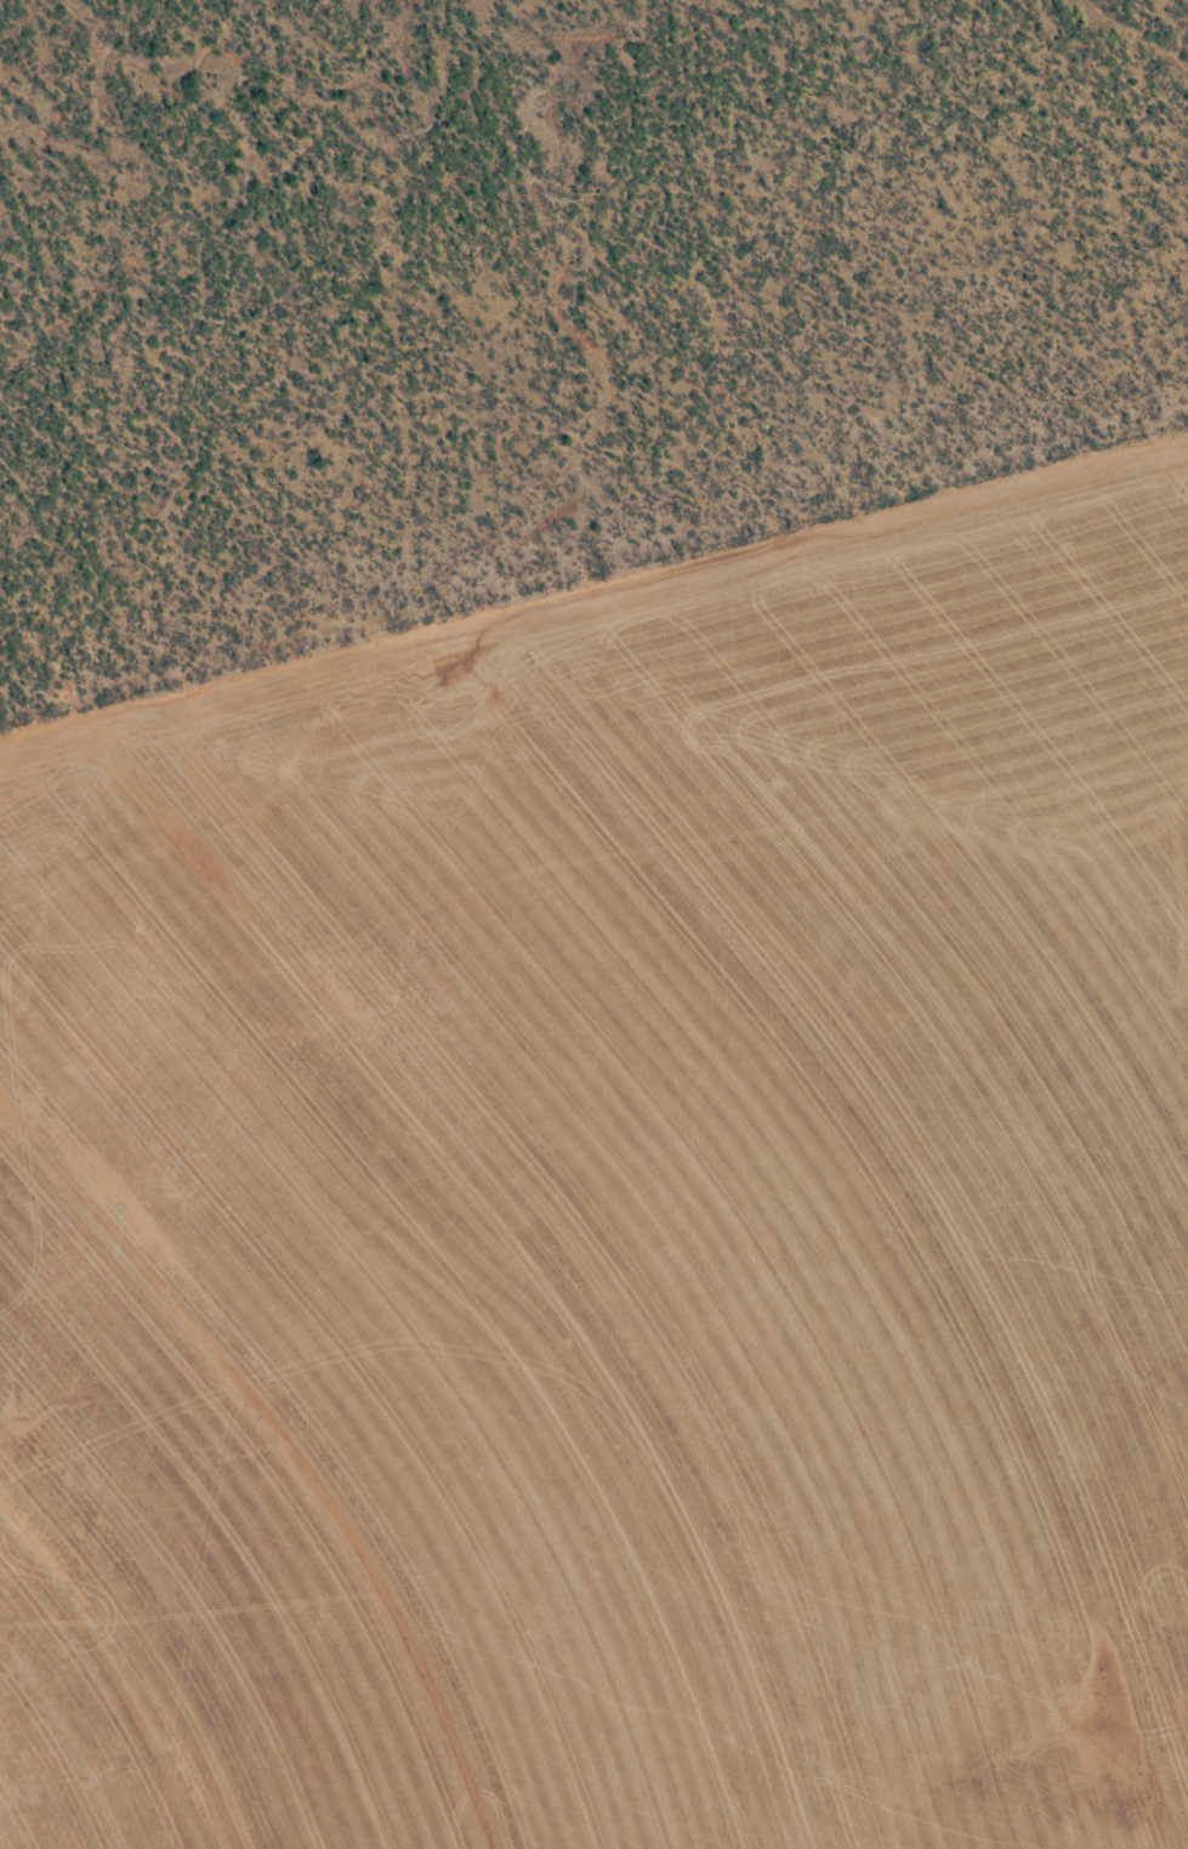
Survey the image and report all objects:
road: (939, 1628)

